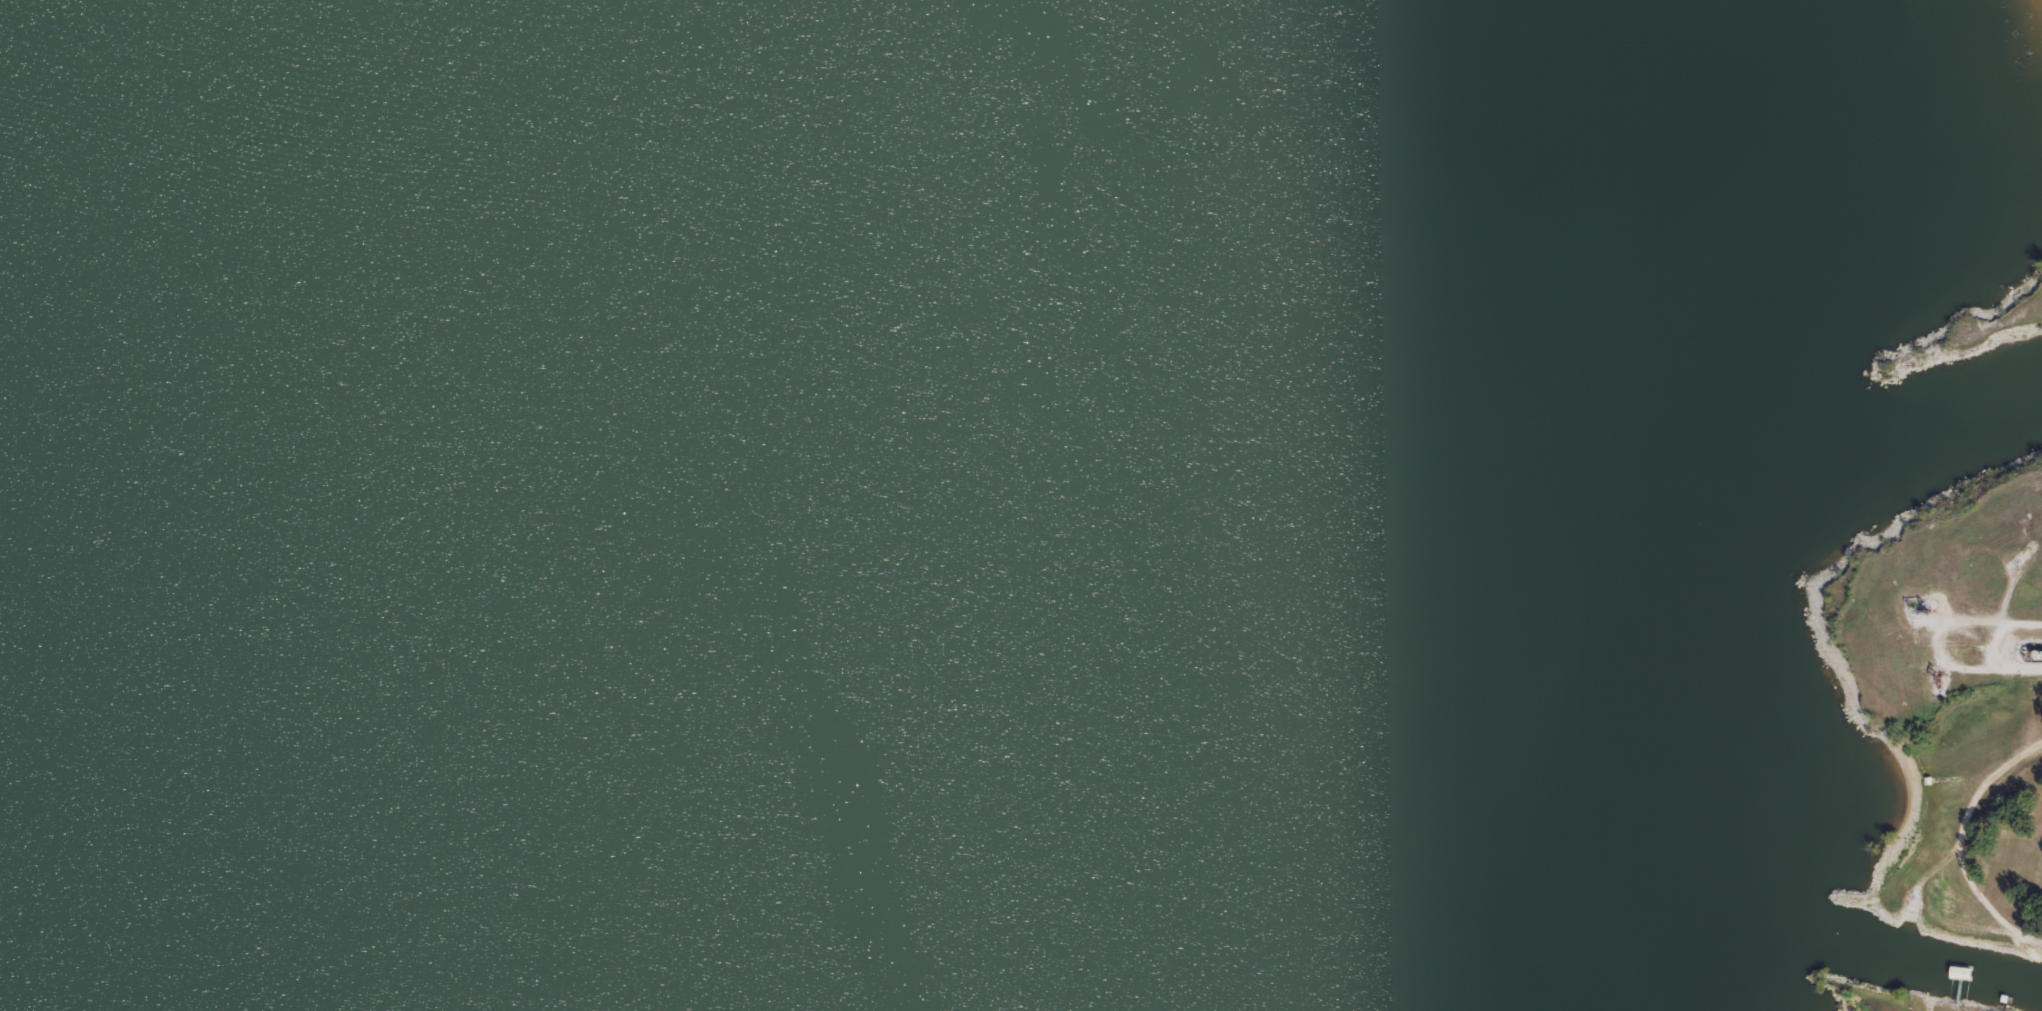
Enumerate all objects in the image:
road: (1992, 648)
road: (1961, 845)
road: (1929, 1007)

